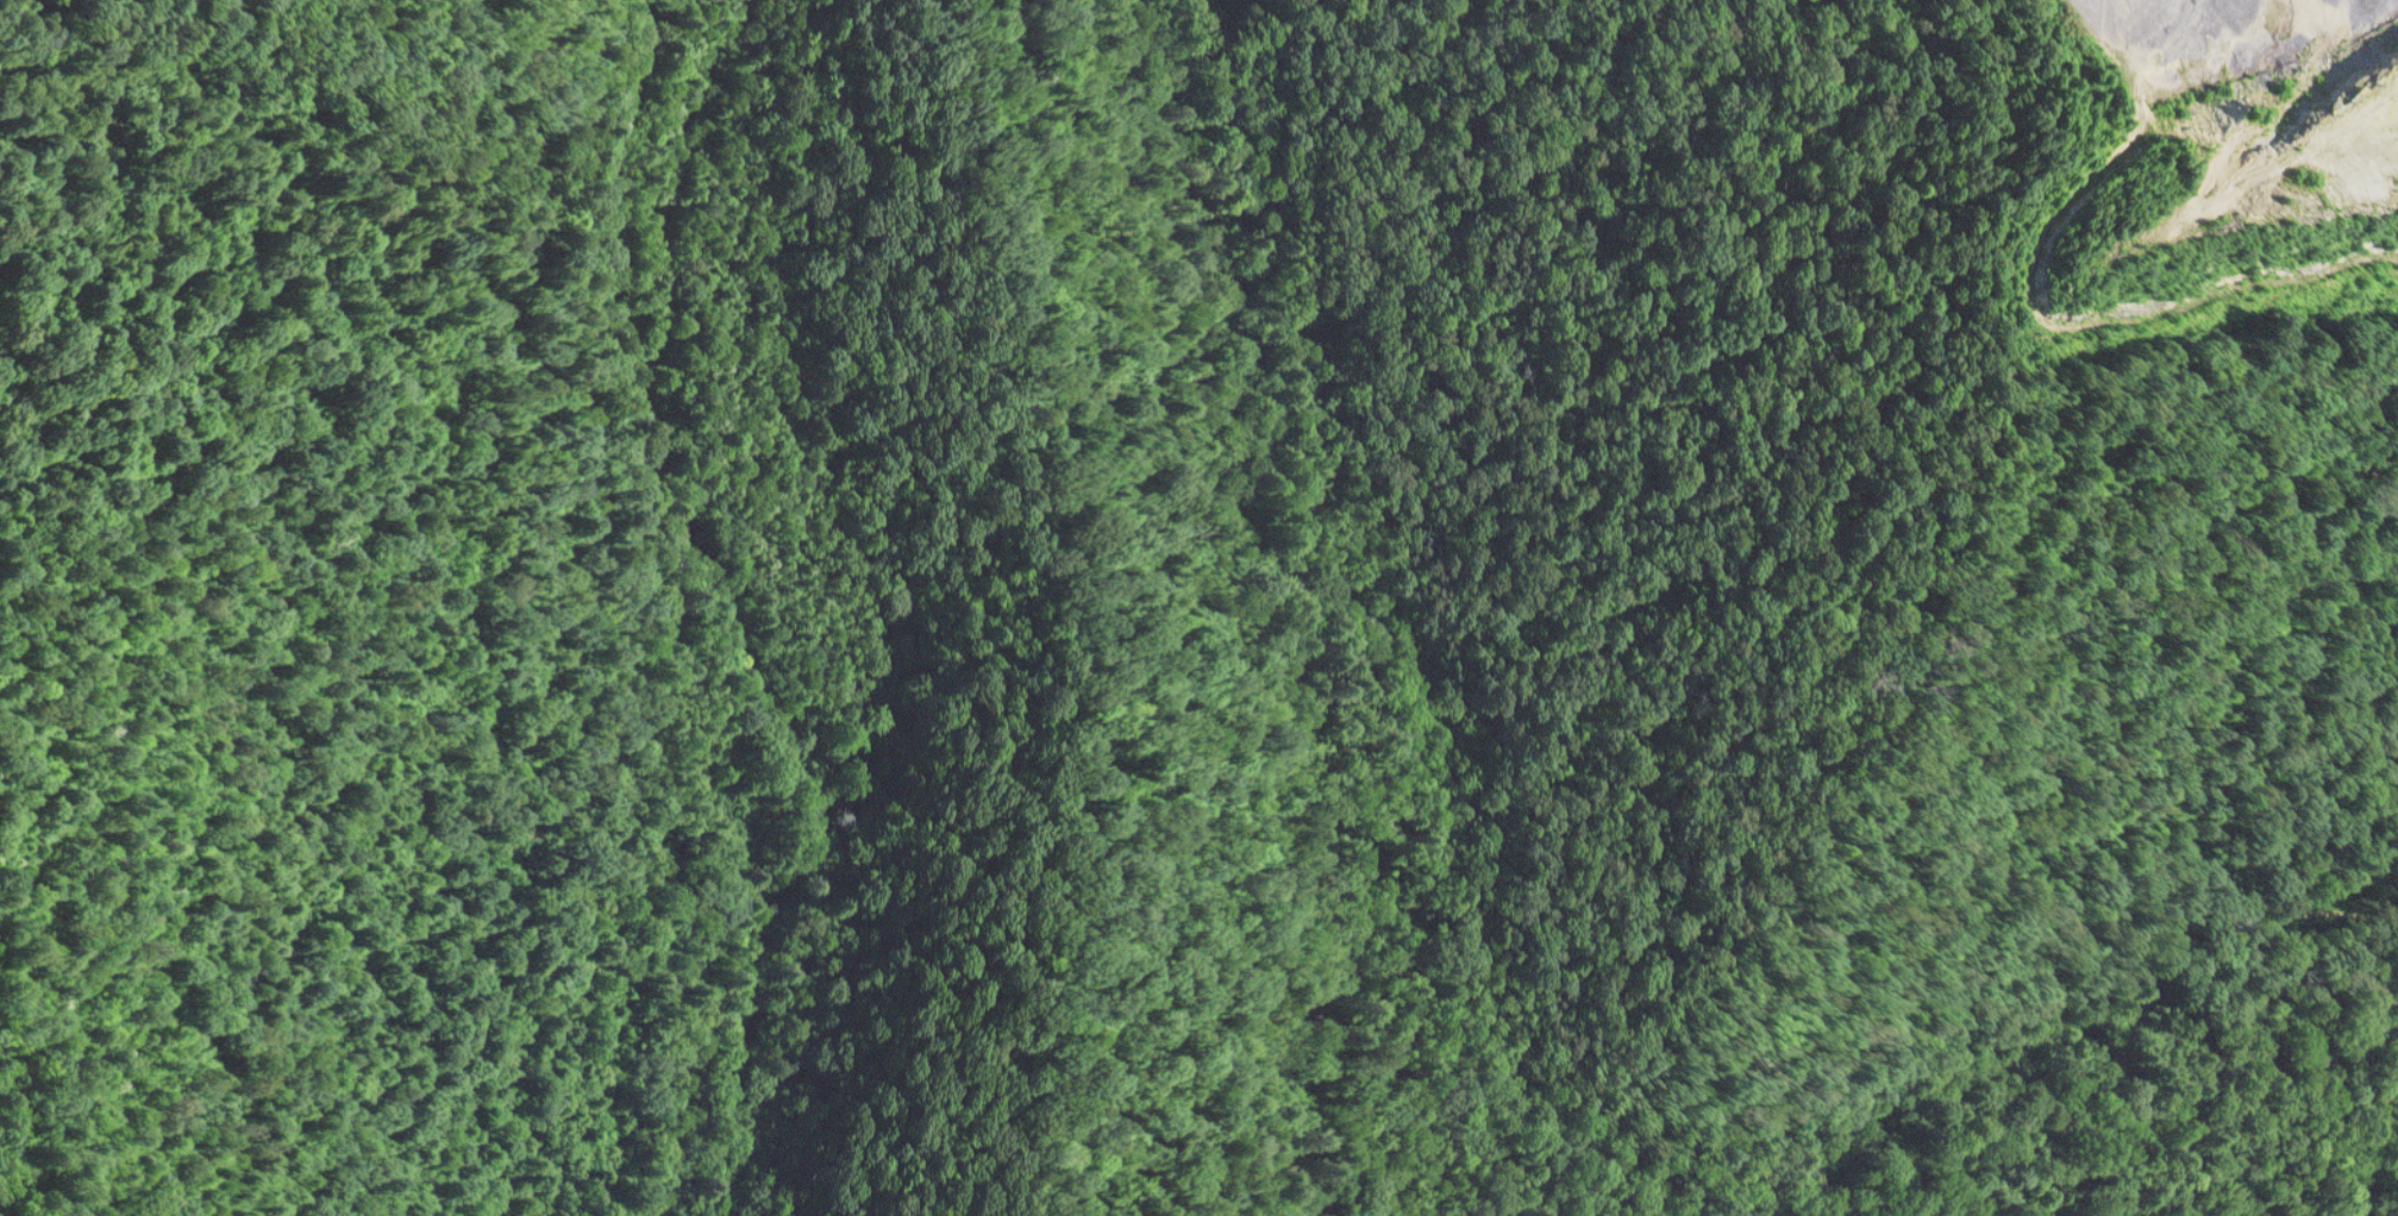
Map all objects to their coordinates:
road: (699, 589)
quarry: (1198, 608)

